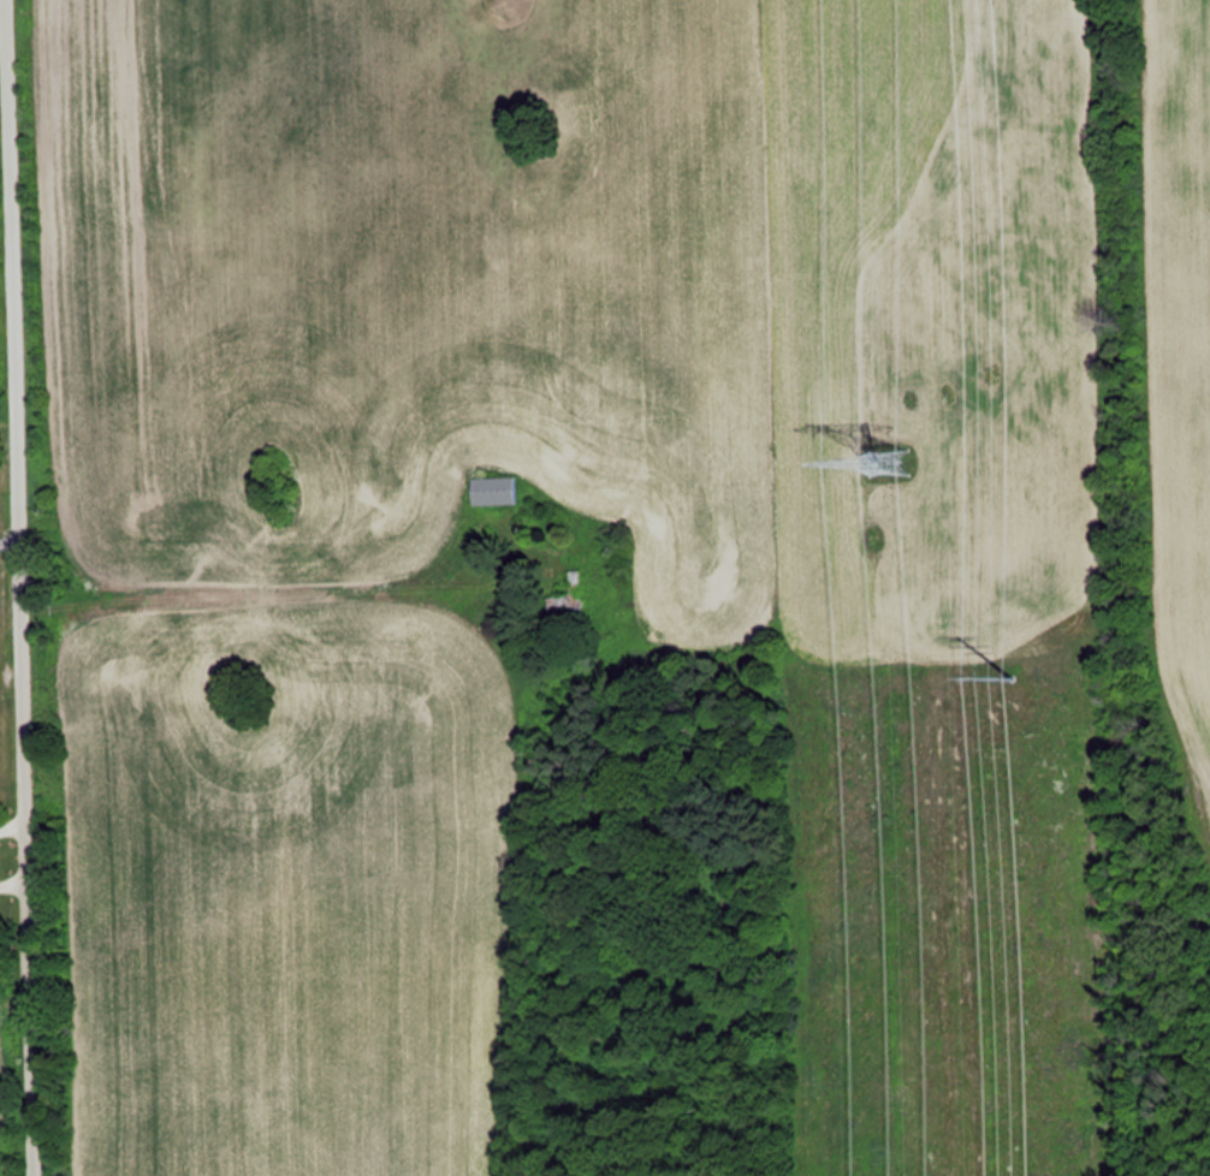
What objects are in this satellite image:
power tower: (879, 470)
building: (492, 491)
road: (4, 536)
building: (574, 580)
building: (565, 608)
power tower: (1028, 673)
road: (12, 699)
road: (7, 826)
road: (8, 883)

